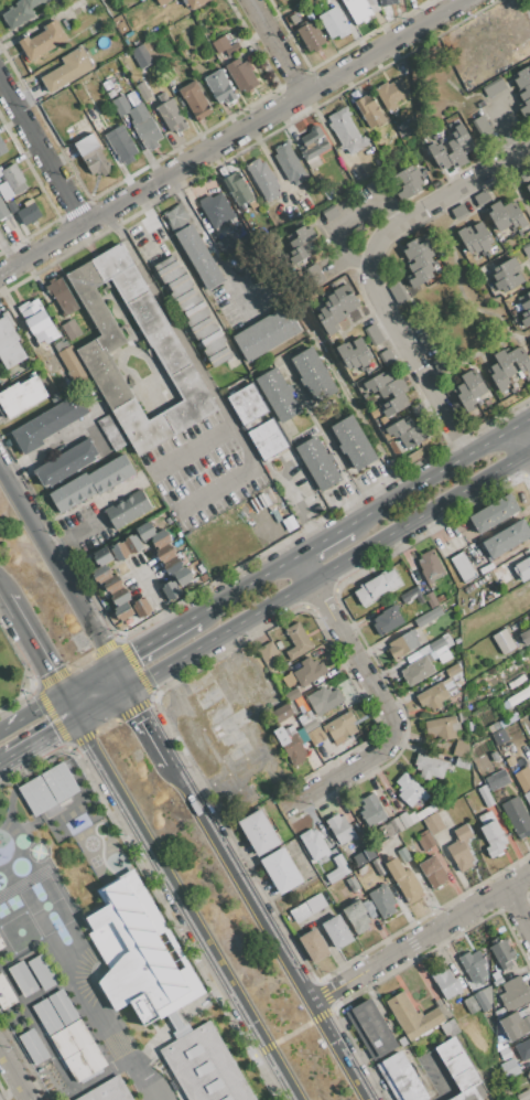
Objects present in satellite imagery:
building: (139, 0)
building: (65, 1)
building: (162, 2)
building: (387, 2)
building: (196, 3)
building: (372, 4)
building: (358, 10)
building: (20, 12)
building: (293, 19)
building: (334, 22)
building: (311, 35)
building: (44, 40)
building: (225, 46)
road: (274, 46)
building: (140, 56)
building: (67, 70)
building: (241, 74)
building: (522, 77)
building: (219, 86)
building: (494, 87)
building: (142, 92)
building: (391, 93)
building: (526, 93)
building: (195, 100)
building: (524, 108)
building: (370, 111)
building: (170, 113)
building: (138, 119)
building: (479, 124)
building: (346, 130)
road: (230, 137)
building: (463, 139)
building: (121, 145)
building: (313, 146)
building: (2, 147)
road: (43, 151)
building: (455, 153)
building: (93, 154)
building: (439, 154)
building: (290, 163)
building: (523, 173)
building: (407, 175)
building: (14, 178)
building: (263, 179)
road: (519, 185)
building: (374, 186)
building: (410, 188)
building: (528, 188)
building: (237, 189)
building: (11, 207)
building: (2, 210)
building: (216, 210)
building: (459, 211)
building: (29, 212)
building: (329, 213)
road: (150, 214)
building: (498, 216)
building: (515, 216)
building: (176, 217)
road: (343, 224)
road: (116, 225)
building: (520, 233)
building: (482, 236)
building: (304, 239)
building: (468, 241)
building: (226, 246)
building: (415, 248)
building: (526, 249)
building: (487, 255)
building: (198, 256)
building: (421, 260)
building: (505, 268)
road: (372, 274)
building: (421, 276)
road: (456, 279)
building: (508, 281)
building: (491, 282)
building: (333, 285)
building: (491, 287)
building: (398, 292)
building: (322, 295)
building: (62, 296)
building: (345, 299)
building: (524, 301)
building: (335, 308)
building: (193, 310)
building: (513, 312)
park: (451, 318)
building: (526, 318)
building: (327, 320)
building: (37, 321)
building: (71, 330)
building: (266, 332)
building: (372, 334)
building: (10, 344)
building: (61, 344)
building: (94, 351)
building: (361, 351)
road: (477, 353)
building: (347, 355)
building: (386, 357)
building: (520, 359)
building: (71, 360)
building: (506, 363)
building: (47, 366)
building: (313, 374)
building: (498, 376)
building: (527, 377)
building: (378, 382)
building: (472, 383)
building: (393, 387)
road: (210, 391)
building: (511, 391)
building: (278, 394)
building: (21, 396)
building: (465, 396)
building: (247, 405)
building: (394, 405)
building: (417, 410)
road: (522, 421)
building: (47, 423)
building: (399, 428)
building: (111, 432)
building: (413, 436)
building: (267, 440)
road: (522, 440)
building: (354, 442)
road: (45, 449)
building: (66, 462)
building: (317, 463)
building: (111, 473)
road: (430, 477)
road: (127, 483)
building: (73, 492)
road: (301, 505)
building: (128, 509)
building: (494, 513)
road: (271, 528)
building: (145, 531)
building: (161, 538)
building: (507, 538)
road: (321, 540)
building: (132, 544)
building: (120, 552)
building: (165, 553)
building: (102, 556)
building: (173, 565)
building: (430, 566)
building: (463, 567)
building: (522, 568)
road: (54, 570)
building: (101, 574)
building: (183, 576)
building: (113, 584)
road: (303, 586)
building: (377, 587)
road: (240, 588)
building: (171, 590)
road: (1, 594)
building: (412, 596)
building: (120, 597)
building: (440, 598)
building: (431, 599)
road: (156, 600)
building: (141, 608)
building: (122, 611)
building: (529, 613)
building: (429, 617)
building: (388, 620)
building: (526, 637)
building: (296, 641)
building: (504, 641)
building: (436, 643)
road: (148, 644)
building: (403, 644)
road: (32, 645)
building: (424, 650)
traffic signals: (132, 654)
building: (269, 656)
building: (412, 656)
building: (443, 656)
building: (453, 670)
building: (309, 671)
building: (418, 671)
park: (14, 672)
traffic signals: (48, 673)
road: (117, 679)
building: (451, 684)
building: (292, 694)
road: (380, 694)
building: (432, 696)
building: (325, 698)
building: (529, 698)
road: (55, 699)
road: (68, 707)
traffic signals: (137, 712)
building: (281, 713)
building: (290, 718)
building: (309, 723)
building: (526, 724)
road: (144, 726)
building: (340, 727)
building: (442, 727)
traffic signals: (53, 731)
building: (314, 736)
road: (40, 738)
building: (293, 747)
building: (461, 749)
building: (494, 756)
road: (3, 761)
building: (462, 763)
building: (430, 767)
building: (513, 769)
building: (497, 780)
building: (48, 789)
building: (410, 790)
building: (485, 797)
building: (528, 797)
building: (371, 810)
building: (423, 812)
building: (517, 816)
building: (412, 818)
building: (404, 820)
building: (433, 823)
building: (396, 824)
building: (340, 829)
building: (388, 829)
building: (259, 832)
building: (491, 834)
building: (425, 842)
building: (313, 844)
building: (461, 848)
building: (404, 854)
building: (337, 869)
building: (281, 871)
building: (432, 872)
building: (404, 880)
building: (354, 885)
building: (382, 900)
building: (315, 903)
road: (186, 909)
road: (518, 911)
building: (300, 912)
building: (356, 916)
road: (266, 930)
building: (337, 931)
road: (419, 939)
building: (1, 944)
building: (314, 946)
building: (501, 953)
building: (142, 955)
building: (474, 965)
building: (42, 972)
building: (23, 979)
road: (80, 981)
building: (497, 981)
building: (447, 983)
building: (487, 994)
building: (513, 994)
building: (6, 995)
building: (482, 1001)
building: (470, 1005)
building: (500, 1013)
building: (412, 1016)
building: (174, 1022)
building: (516, 1026)
building: (450, 1028)
building: (371, 1029)
road: (292, 1033)
building: (71, 1035)
building: (33, 1046)
building: (523, 1049)
building: (204, 1066)
building: (524, 1066)
building: (508, 1067)
building: (459, 1069)
building: (529, 1072)
road: (14, 1074)
building: (401, 1078)
building: (108, 1091)
building: (523, 1096)

